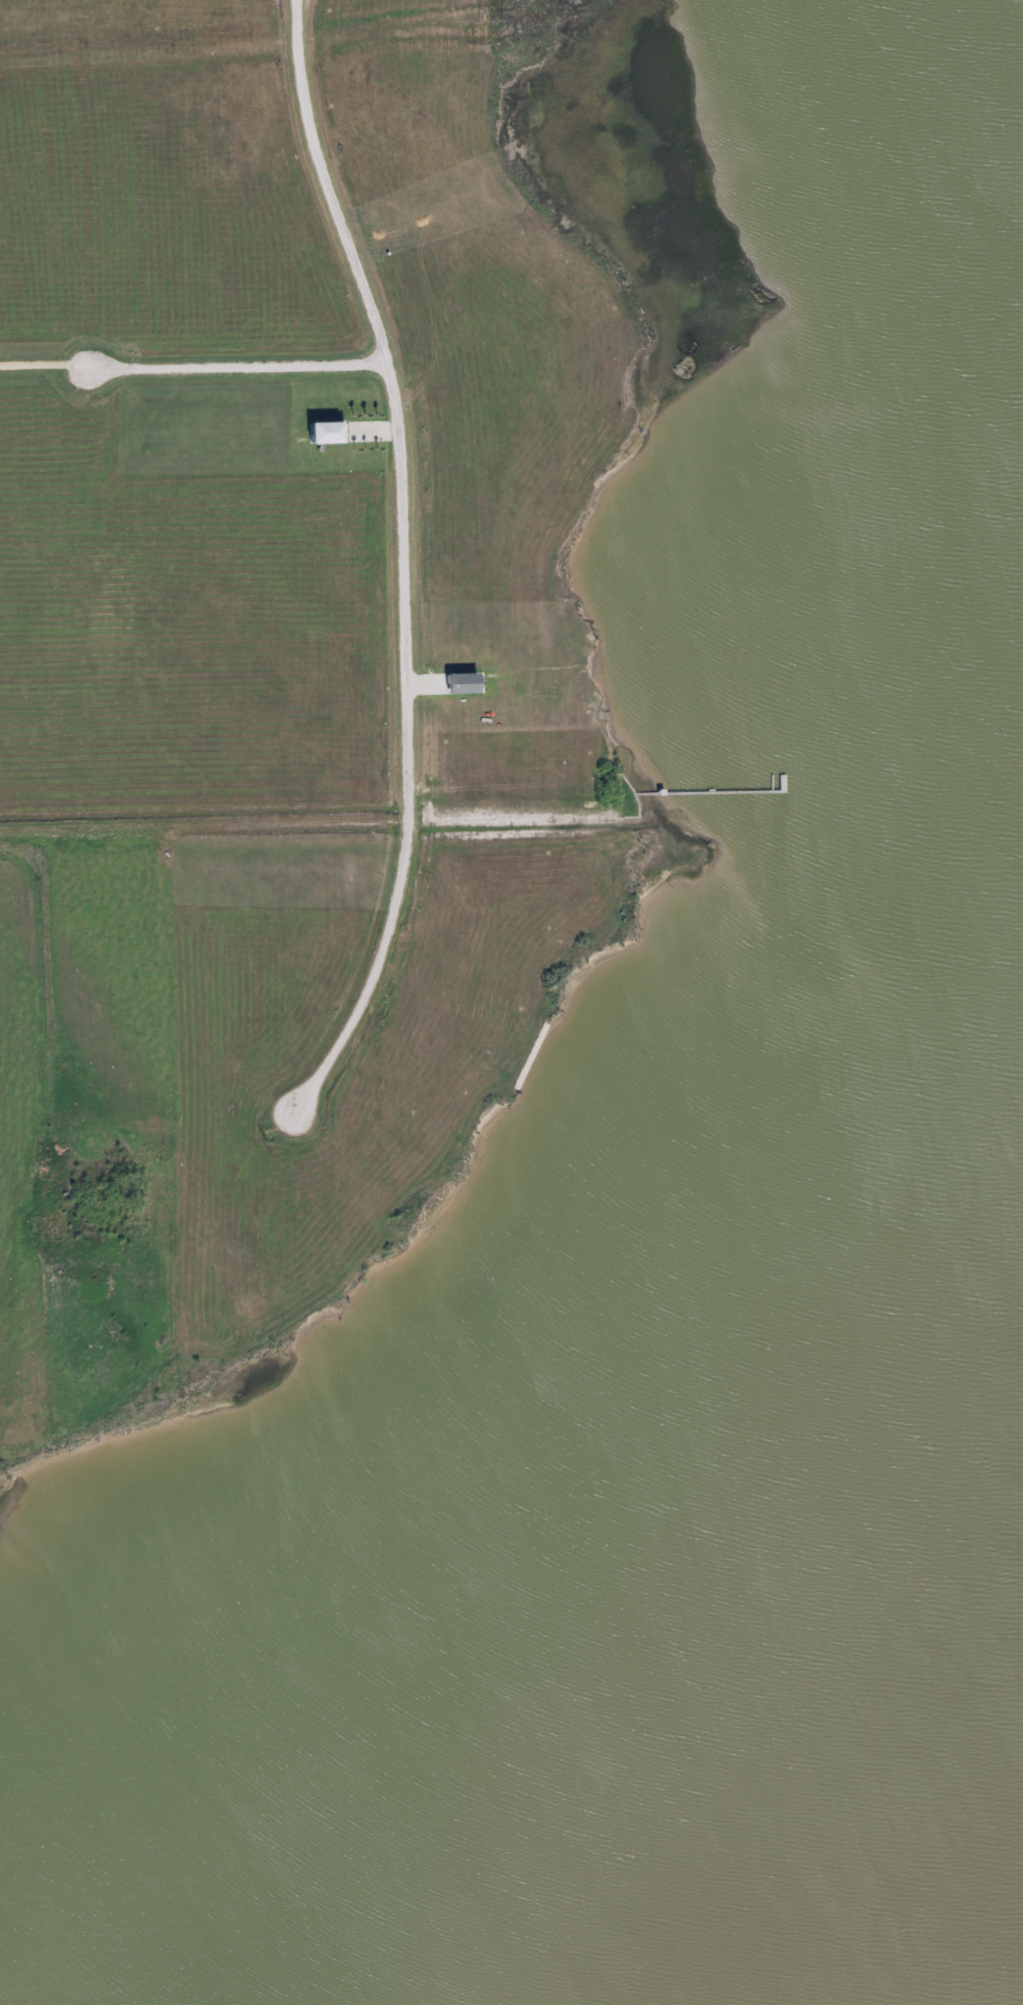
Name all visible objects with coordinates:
building: (455, 684)

